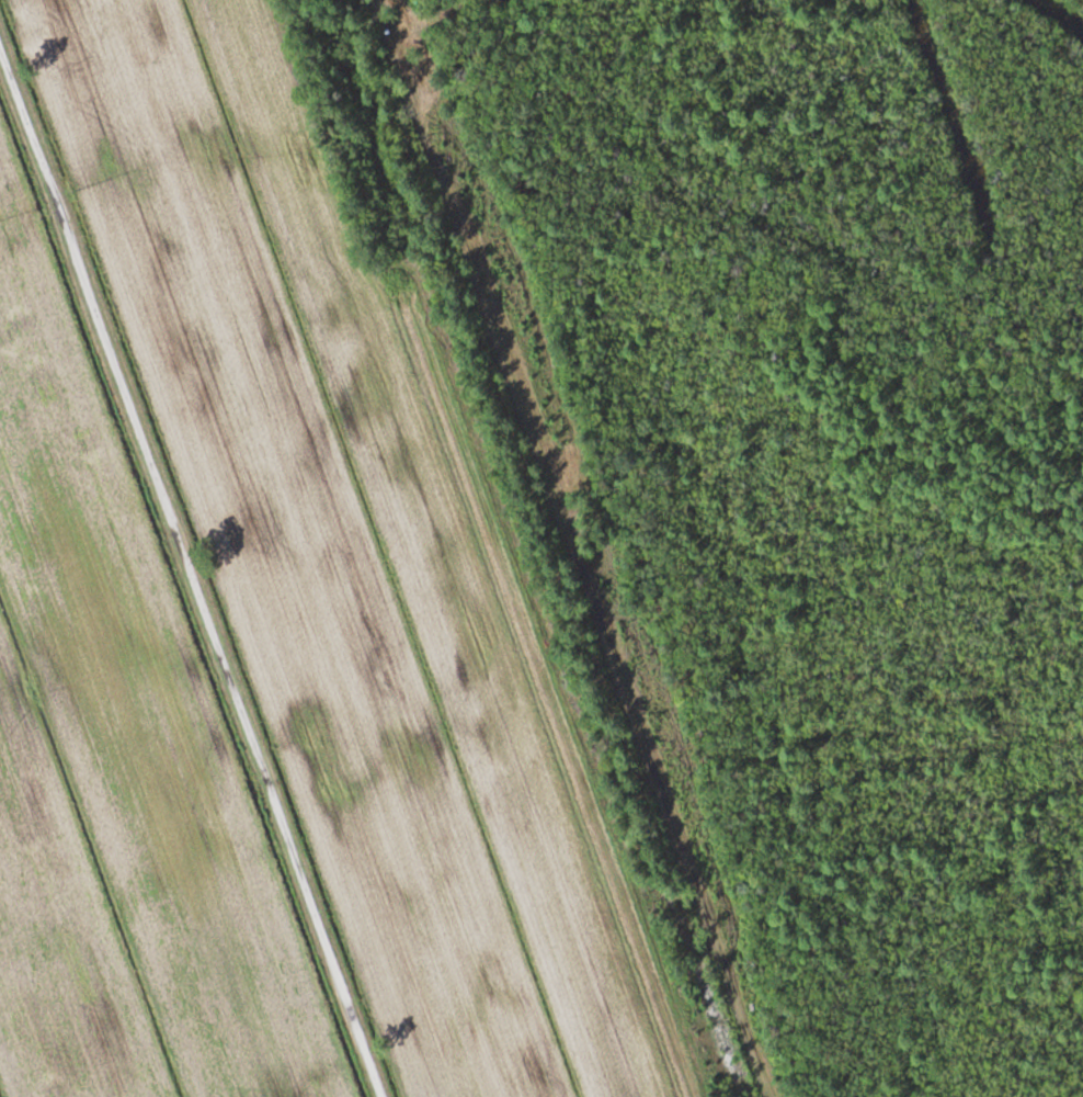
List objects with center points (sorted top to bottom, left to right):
road: (206, 552)

